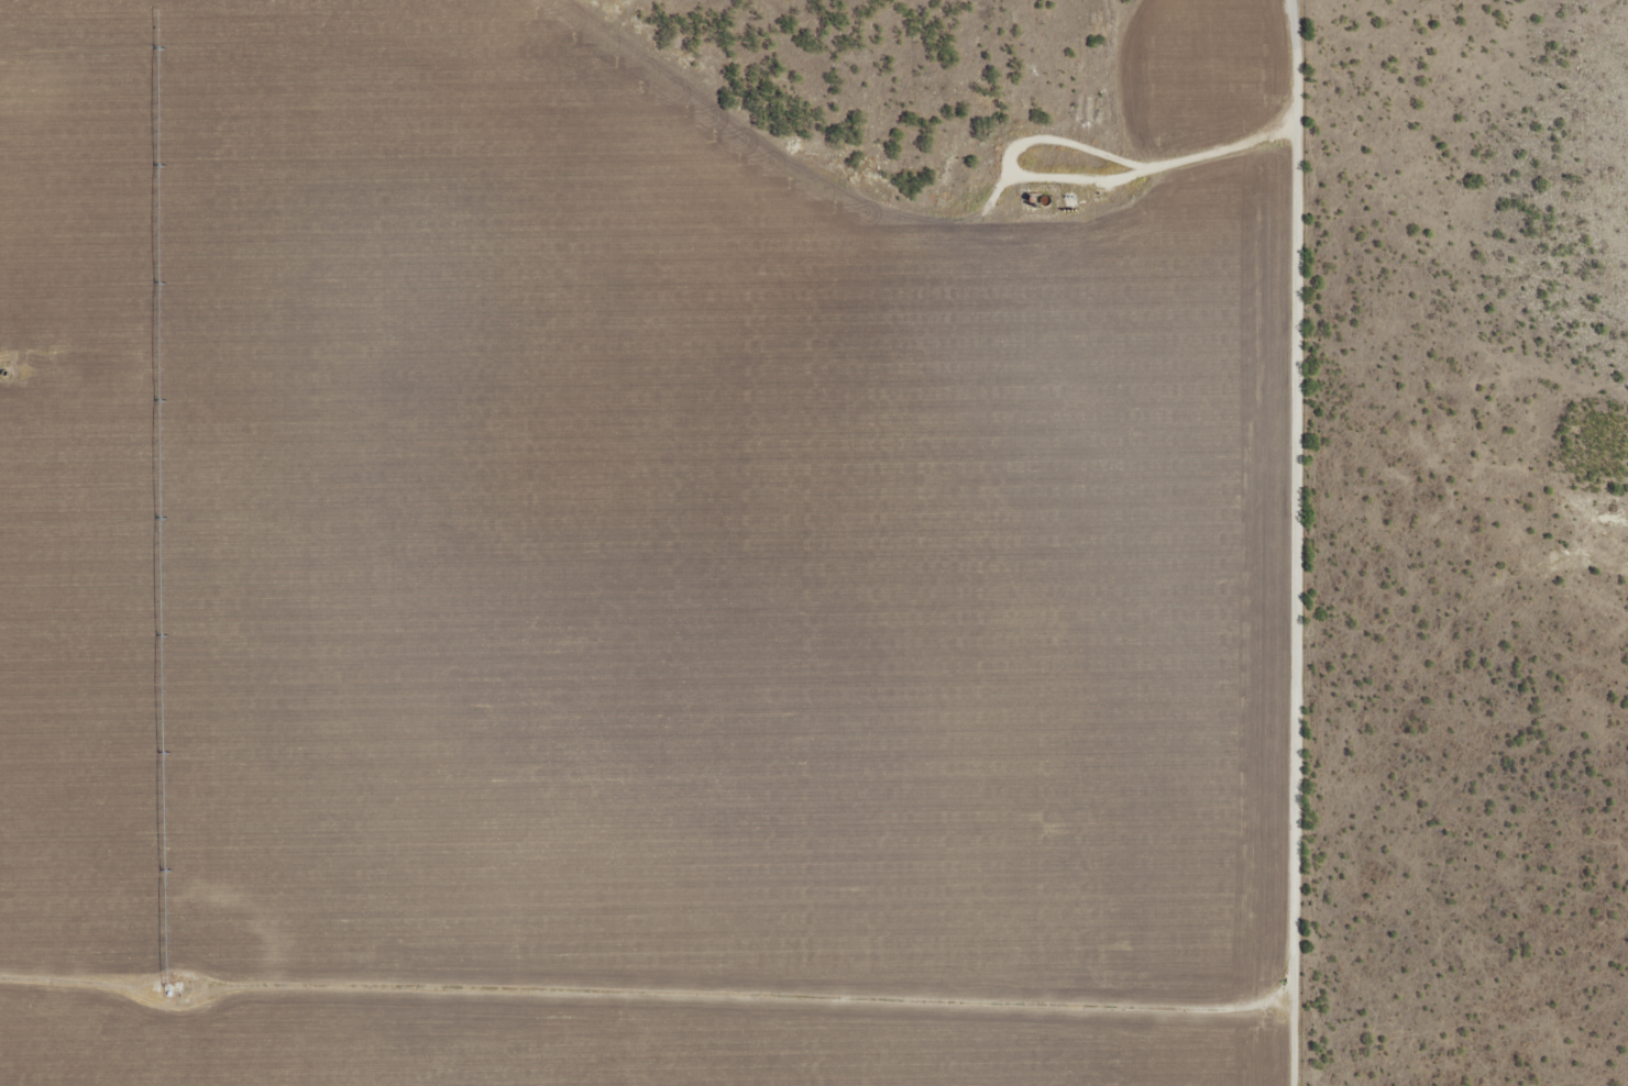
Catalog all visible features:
road: (409, 543)

